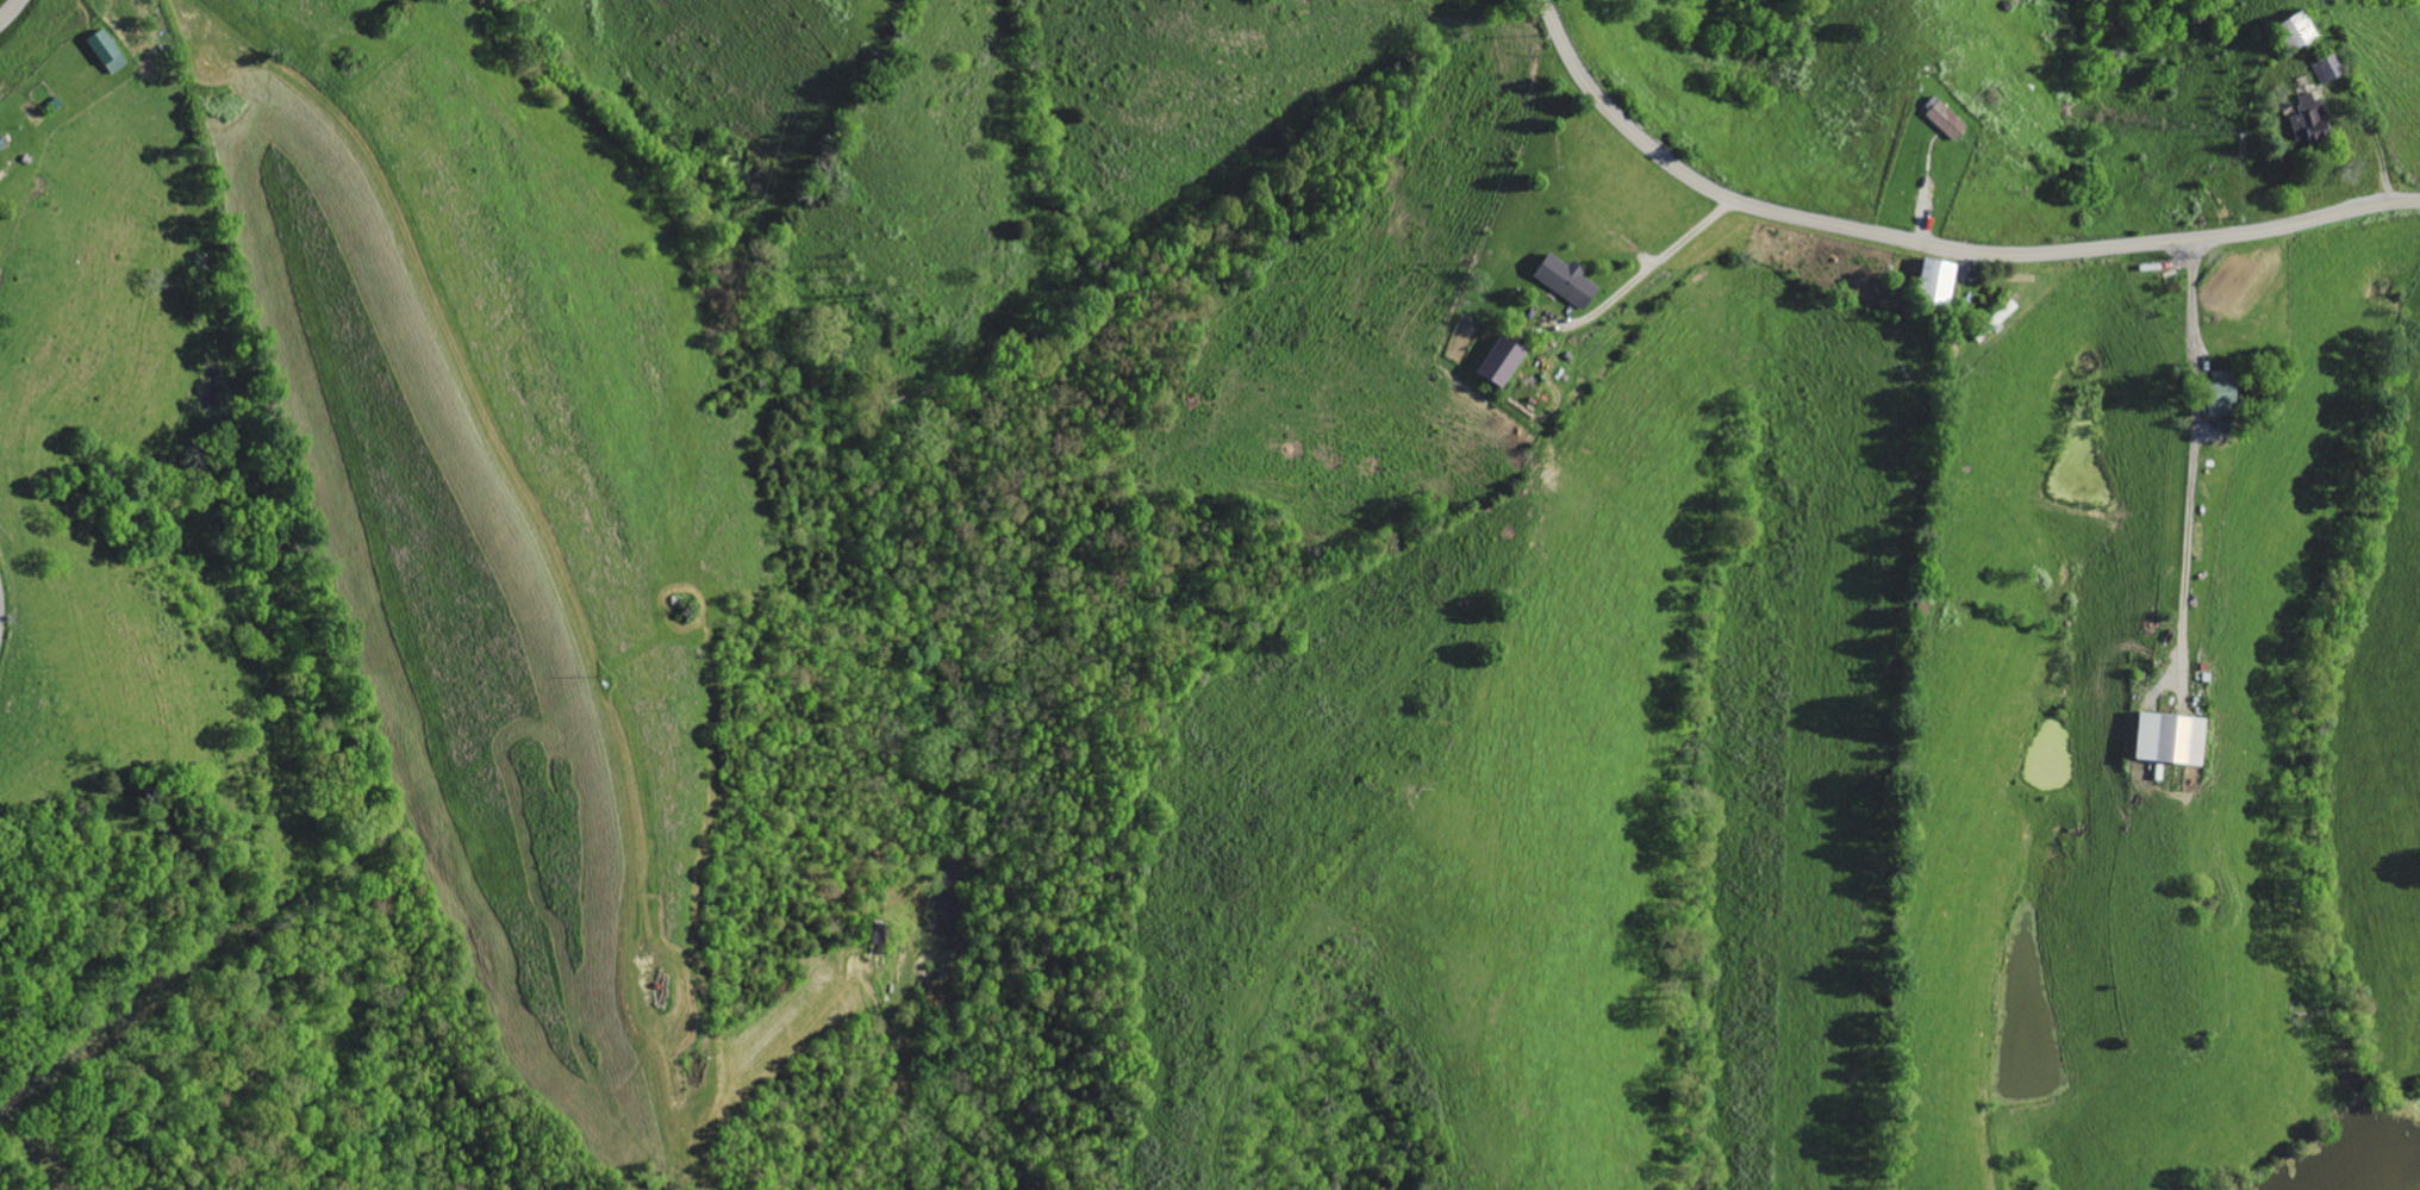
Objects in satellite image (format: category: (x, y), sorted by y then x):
road: (10, 10)
building: (2301, 29)
building: (108, 50)
building: (1946, 117)
building: (2312, 118)
road: (1933, 247)
road: (1666, 253)
building: (1941, 278)
building: (1567, 280)
road: (2189, 300)
building: (1505, 360)
building: (2225, 392)
building: (2173, 737)

